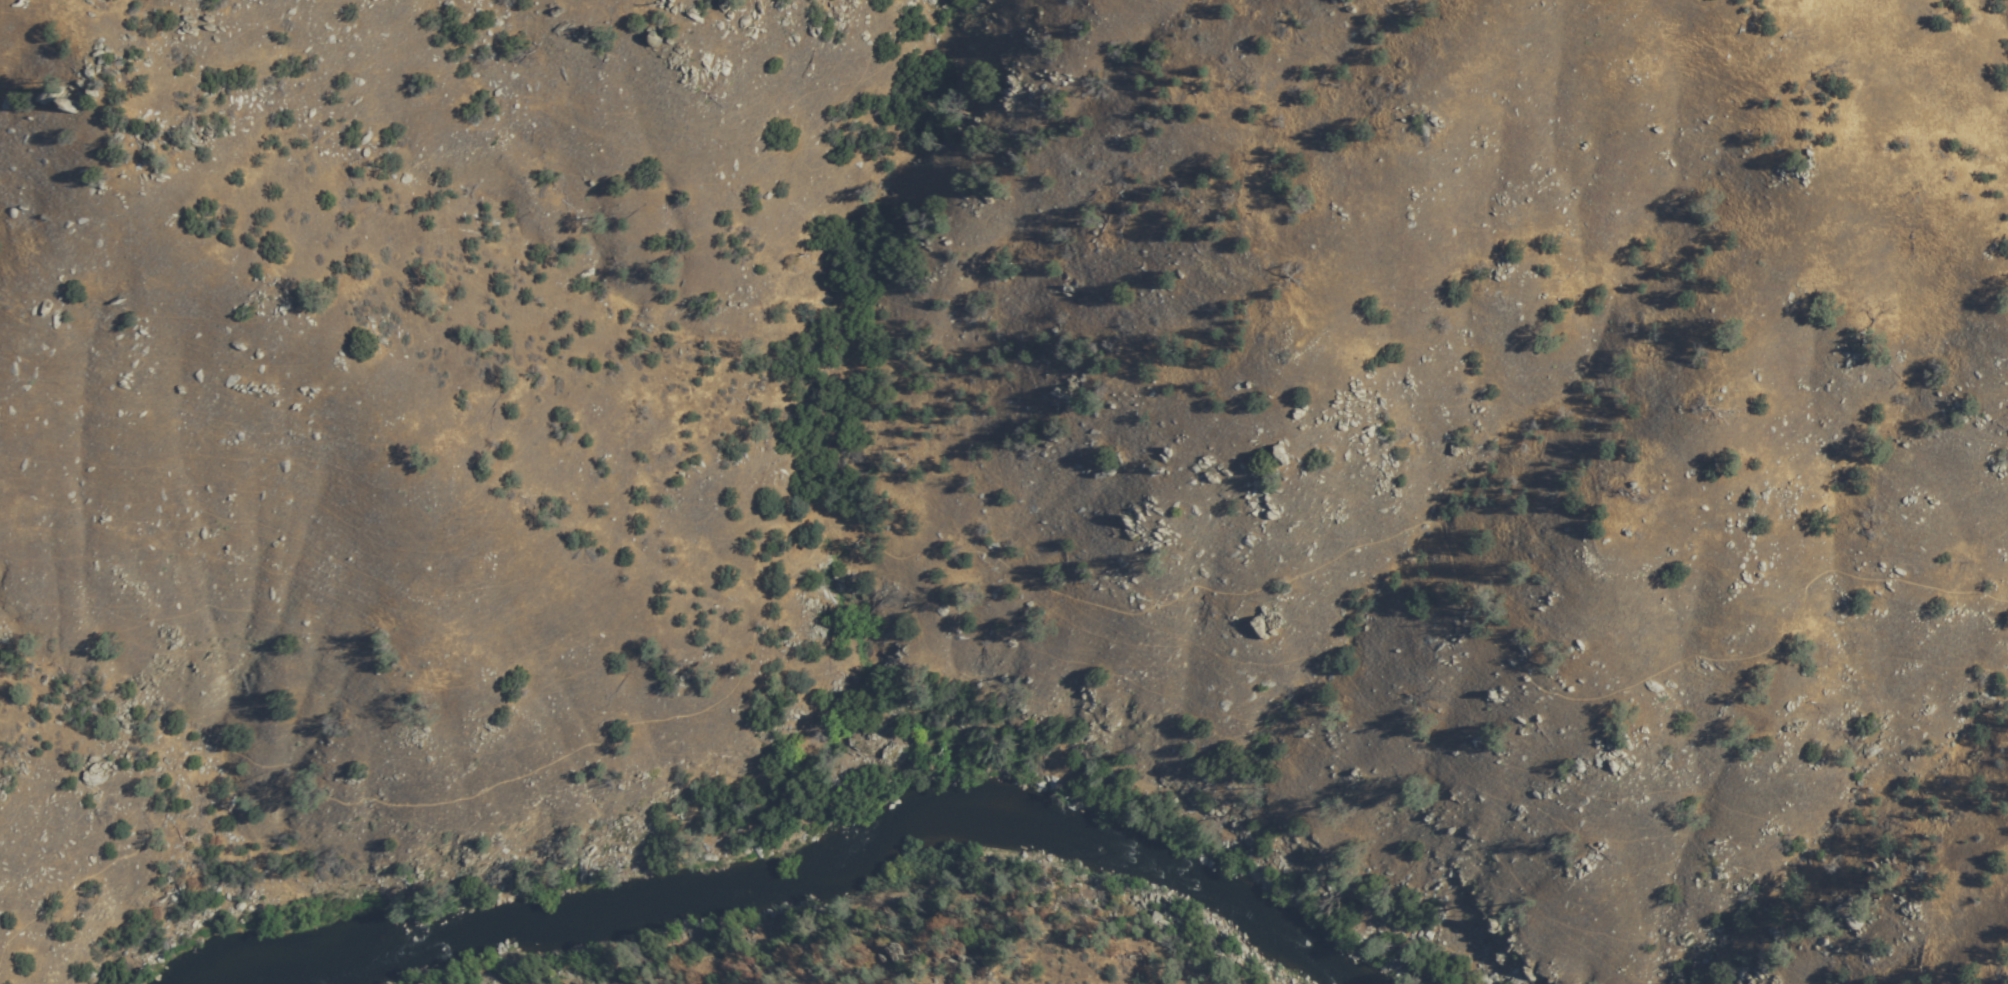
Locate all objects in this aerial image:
road: (973, 551)
river: (1117, 860)
river: (599, 921)
river: (249, 981)

